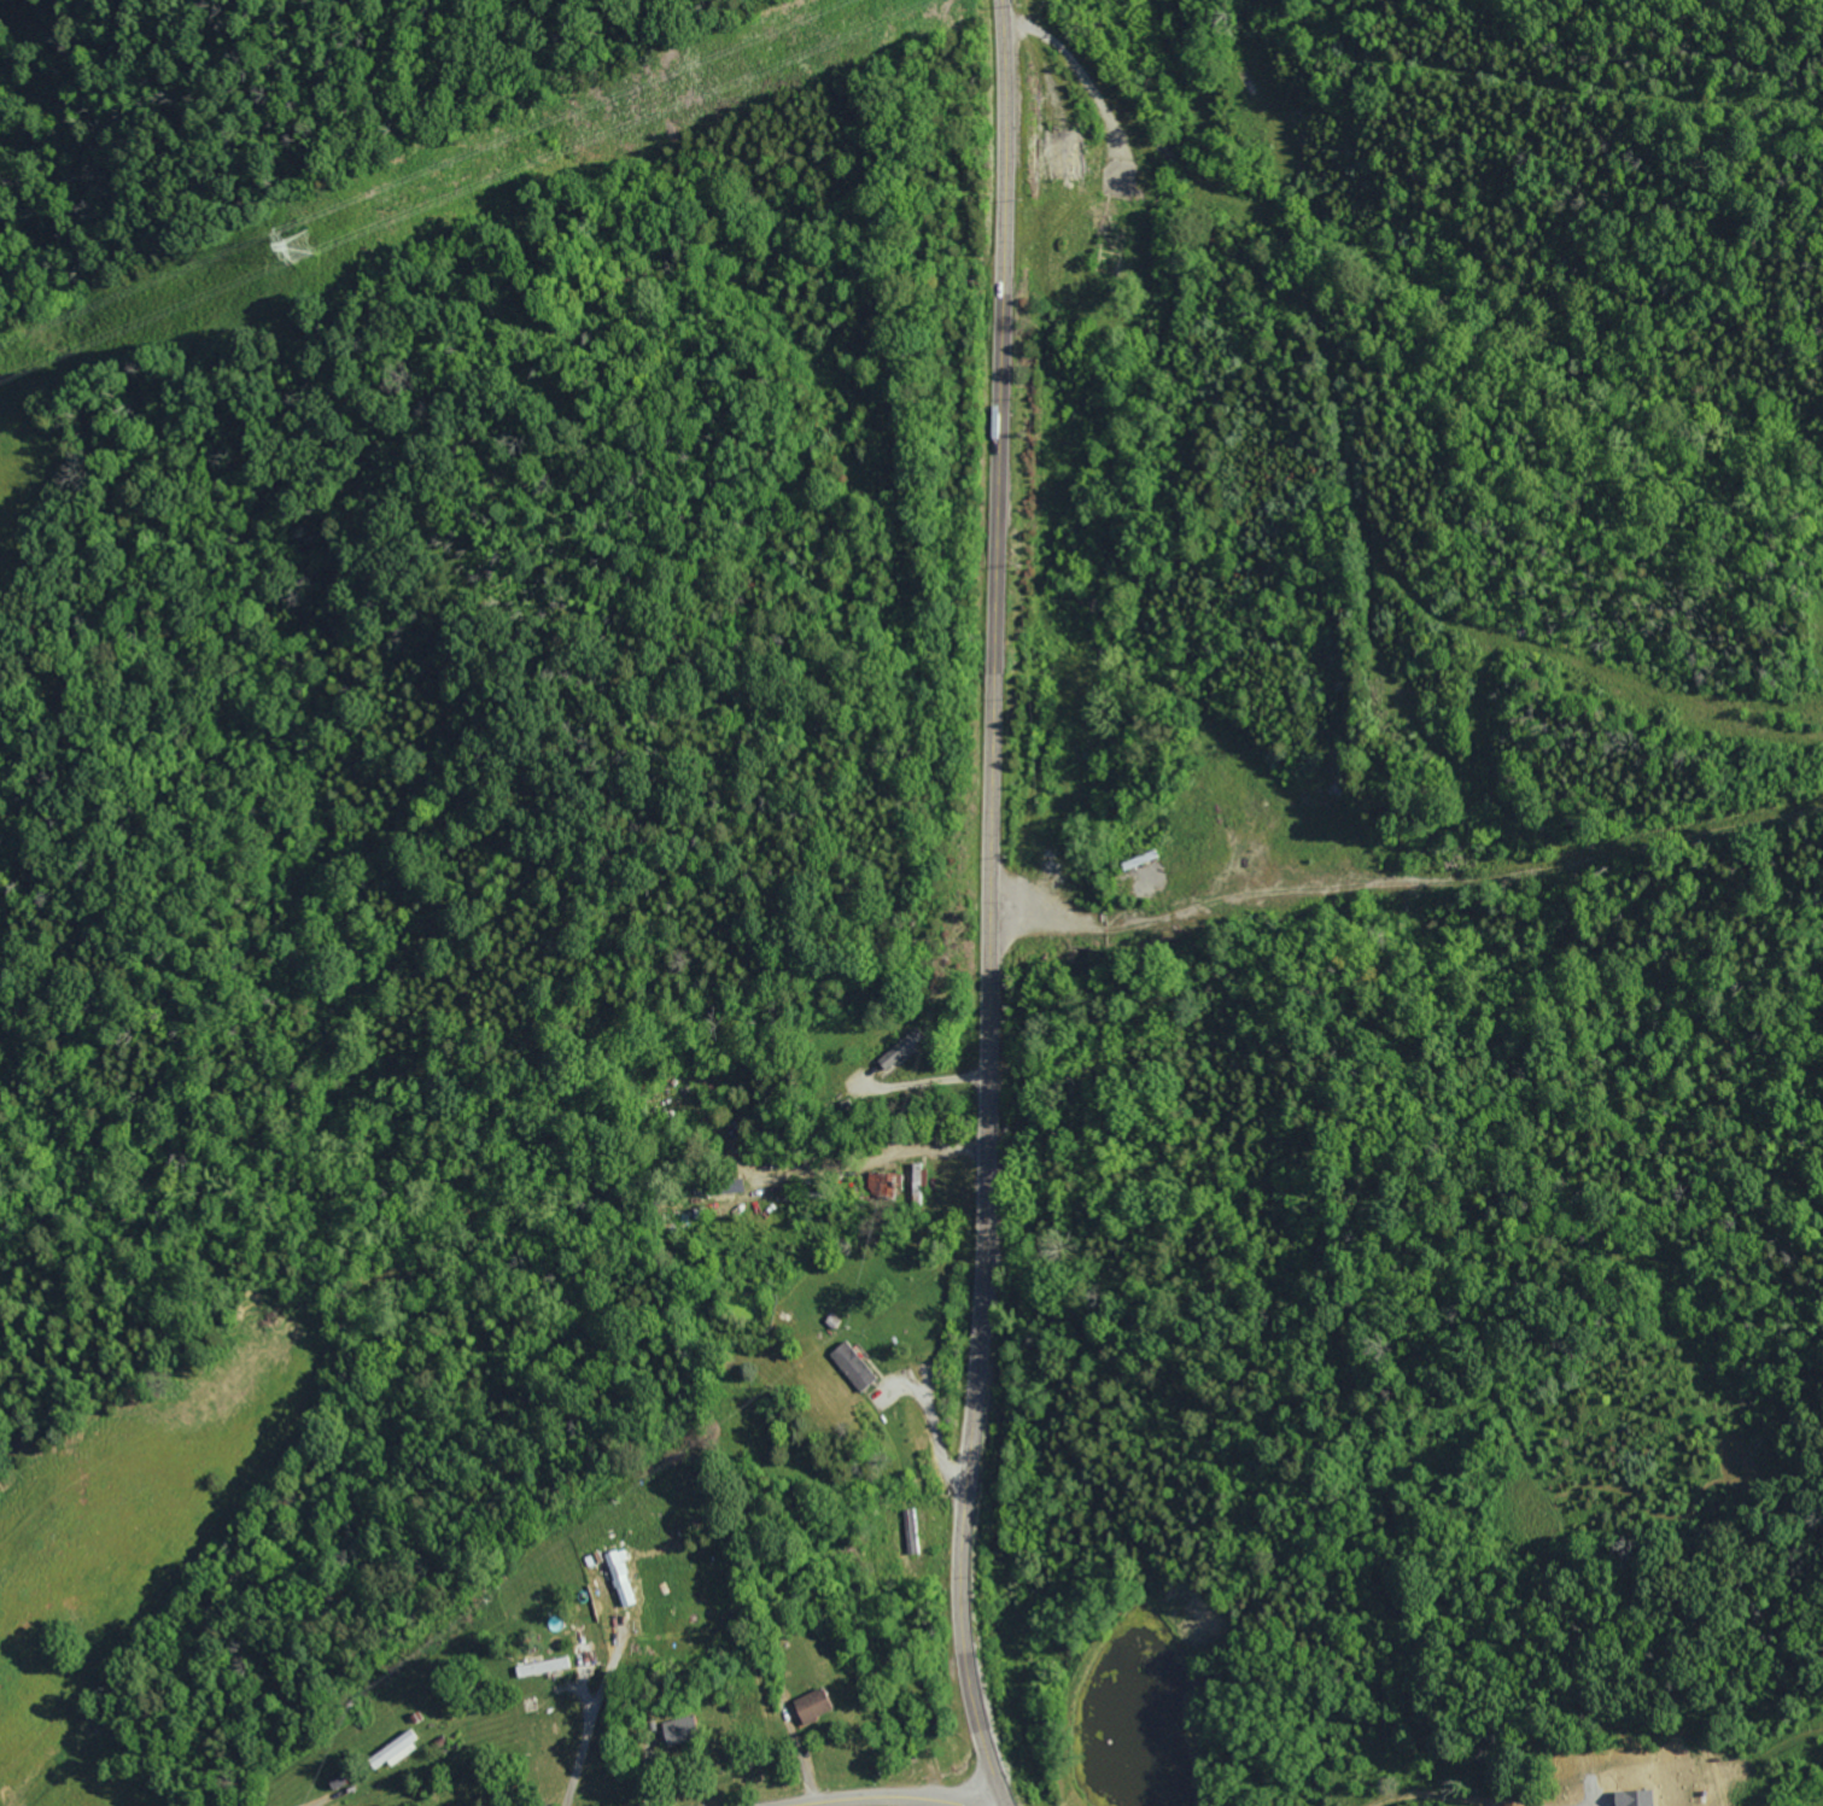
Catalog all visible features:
power tower: (304, 242)
road: (993, 906)
building: (901, 1050)
building: (853, 1366)
building: (621, 1578)
building: (539, 1665)
road: (590, 1724)
building: (679, 1731)
building: (393, 1751)
road: (873, 1798)
road: (325, 1799)

